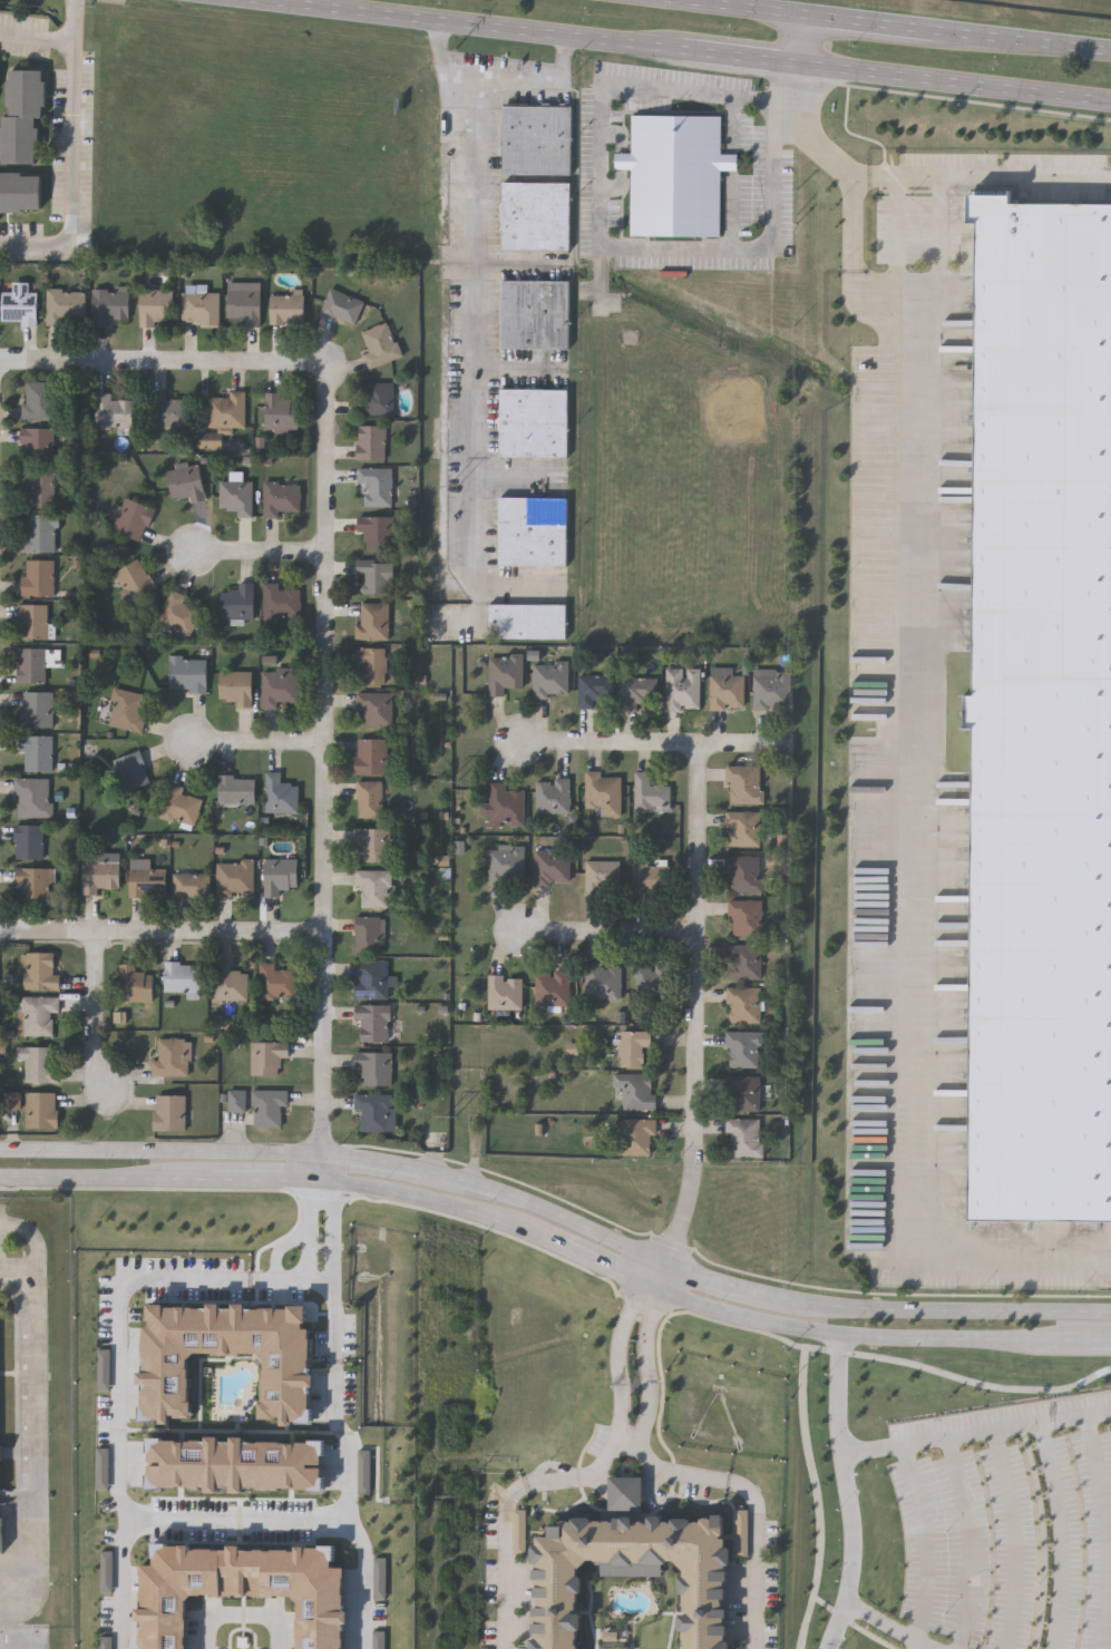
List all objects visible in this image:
road: (879, 28)
road: (36, 38)
road: (796, 41)
road: (696, 51)
road: (528, 80)
building: (25, 114)
road: (731, 123)
building: (537, 139)
road: (71, 156)
road: (730, 162)
building: (675, 174)
road: (981, 179)
building: (21, 192)
road: (731, 208)
building: (536, 215)
road: (600, 232)
road: (897, 242)
road: (939, 245)
building: (243, 302)
building: (109, 304)
building: (154, 305)
building: (67, 306)
building: (341, 306)
building: (21, 308)
building: (199, 308)
building: (286, 308)
building: (535, 313)
road: (467, 341)
building: (380, 345)
road: (47, 358)
road: (208, 358)
road: (0, 373)
building: (377, 399)
building: (40, 400)
building: (226, 409)
building: (280, 410)
building: (113, 412)
building: (167, 413)
building: (534, 422)
building: (371, 442)
building: (39, 446)
building: (184, 480)
building: (376, 485)
building: (39, 488)
building: (235, 496)
building: (281, 497)
building: (130, 518)
building: (377, 530)
building: (532, 530)
building: (41, 533)
road: (264, 549)
building: (374, 576)
building: (39, 577)
building: (133, 579)
building: (238, 601)
building: (280, 601)
building: (176, 614)
building: (526, 619)
building: (32, 621)
building: (372, 622)
building: (372, 663)
building: (33, 665)
building: (187, 673)
building: (504, 673)
building: (549, 679)
building: (280, 686)
building: (235, 687)
building: (771, 687)
building: (683, 689)
building: (725, 689)
building: (595, 691)
building: (639, 692)
road: (916, 706)
building: (39, 709)
building: (127, 709)
building: (374, 709)
building: (1044, 716)
road: (263, 743)
road: (661, 743)
building: (38, 752)
building: (371, 755)
road: (331, 757)
building: (131, 770)
building: (744, 783)
building: (235, 789)
building: (280, 793)
building: (602, 793)
building: (650, 793)
building: (552, 796)
building: (36, 797)
building: (369, 799)
building: (179, 804)
building: (505, 804)
building: (743, 828)
building: (30, 841)
building: (373, 843)
building: (506, 865)
building: (550, 868)
building: (744, 872)
building: (100, 875)
building: (279, 875)
building: (234, 878)
building: (600, 878)
building: (651, 878)
building: (146, 881)
building: (191, 885)
building: (37, 886)
building: (373, 887)
building: (745, 916)
road: (40, 927)
road: (207, 928)
road: (613, 931)
building: (369, 935)
building: (744, 962)
building: (40, 972)
building: (182, 978)
building: (372, 978)
building: (228, 982)
building: (275, 982)
building: (602, 982)
building: (652, 983)
building: (134, 984)
building: (552, 988)
building: (504, 993)
road: (702, 1005)
building: (744, 1005)
road: (103, 1012)
building: (38, 1014)
building: (372, 1021)
building: (633, 1047)
building: (744, 1048)
building: (267, 1055)
building: (170, 1056)
building: (40, 1063)
building: (374, 1066)
building: (637, 1091)
building: (743, 1093)
building: (266, 1106)
building: (42, 1110)
building: (374, 1111)
building: (170, 1113)
building: (635, 1136)
building: (744, 1138)
road: (48, 1149)
road: (209, 1151)
road: (388, 1165)
road: (322, 1170)
road: (48, 1178)
road: (155, 1180)
road: (267, 1181)
road: (432, 1200)
road: (562, 1217)
road: (312, 1229)
road: (332, 1229)
road: (597, 1261)
road: (662, 1275)
road: (331, 1279)
road: (730, 1287)
road: (953, 1314)
road: (869, 1337)
road: (1101, 1343)
building: (226, 1353)
road: (620, 1367)
road: (650, 1375)
road: (332, 1384)
road: (118, 1405)
road: (977, 1432)
road: (38, 1441)
building: (236, 1463)
road: (632, 1463)
road: (848, 1493)
road: (251, 1509)
road: (134, 1514)
parking lot: (1007, 1525)
building: (0, 1526)
road: (247, 1526)
road: (357, 1526)
road: (926, 1545)
building: (246, 1587)
building: (712, 1606)
road: (242, 1612)
road: (887, 1624)

